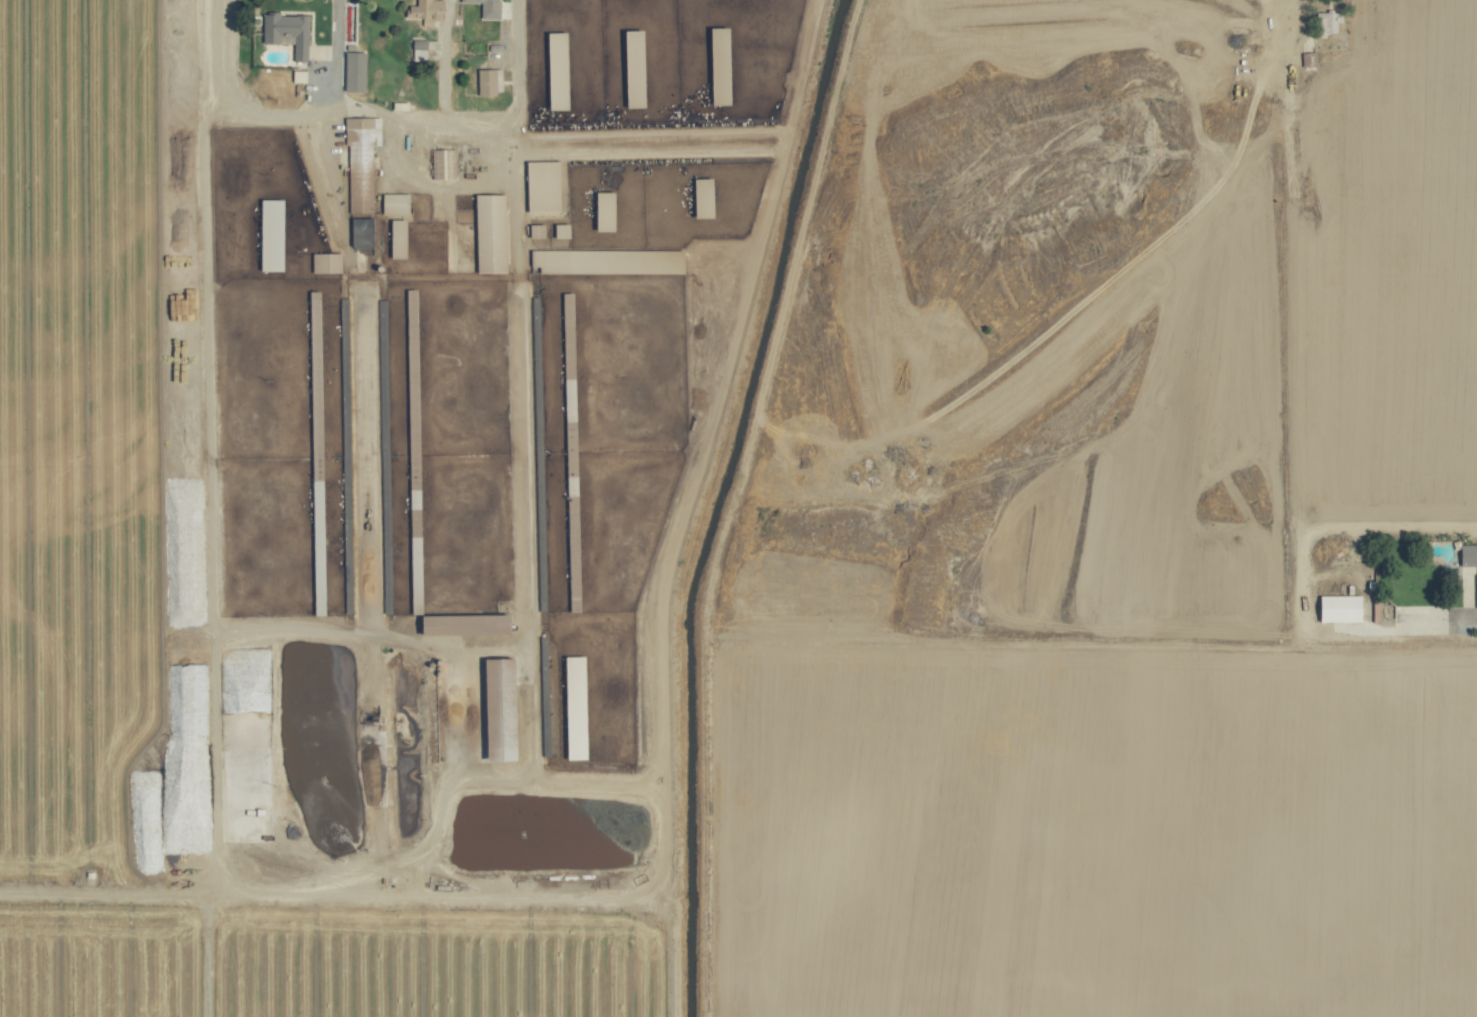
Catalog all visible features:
building: (490, 8)
building: (428, 10)
building: (289, 32)
building: (726, 36)
building: (562, 41)
road: (336, 56)
road: (444, 59)
building: (357, 71)
building: (492, 81)
road: (418, 120)
building: (444, 155)
building: (540, 167)
building: (397, 204)
building: (565, 231)
road: (214, 393)
crop: (738, 508)
building: (1334, 608)
road: (1438, 619)
road: (213, 776)

